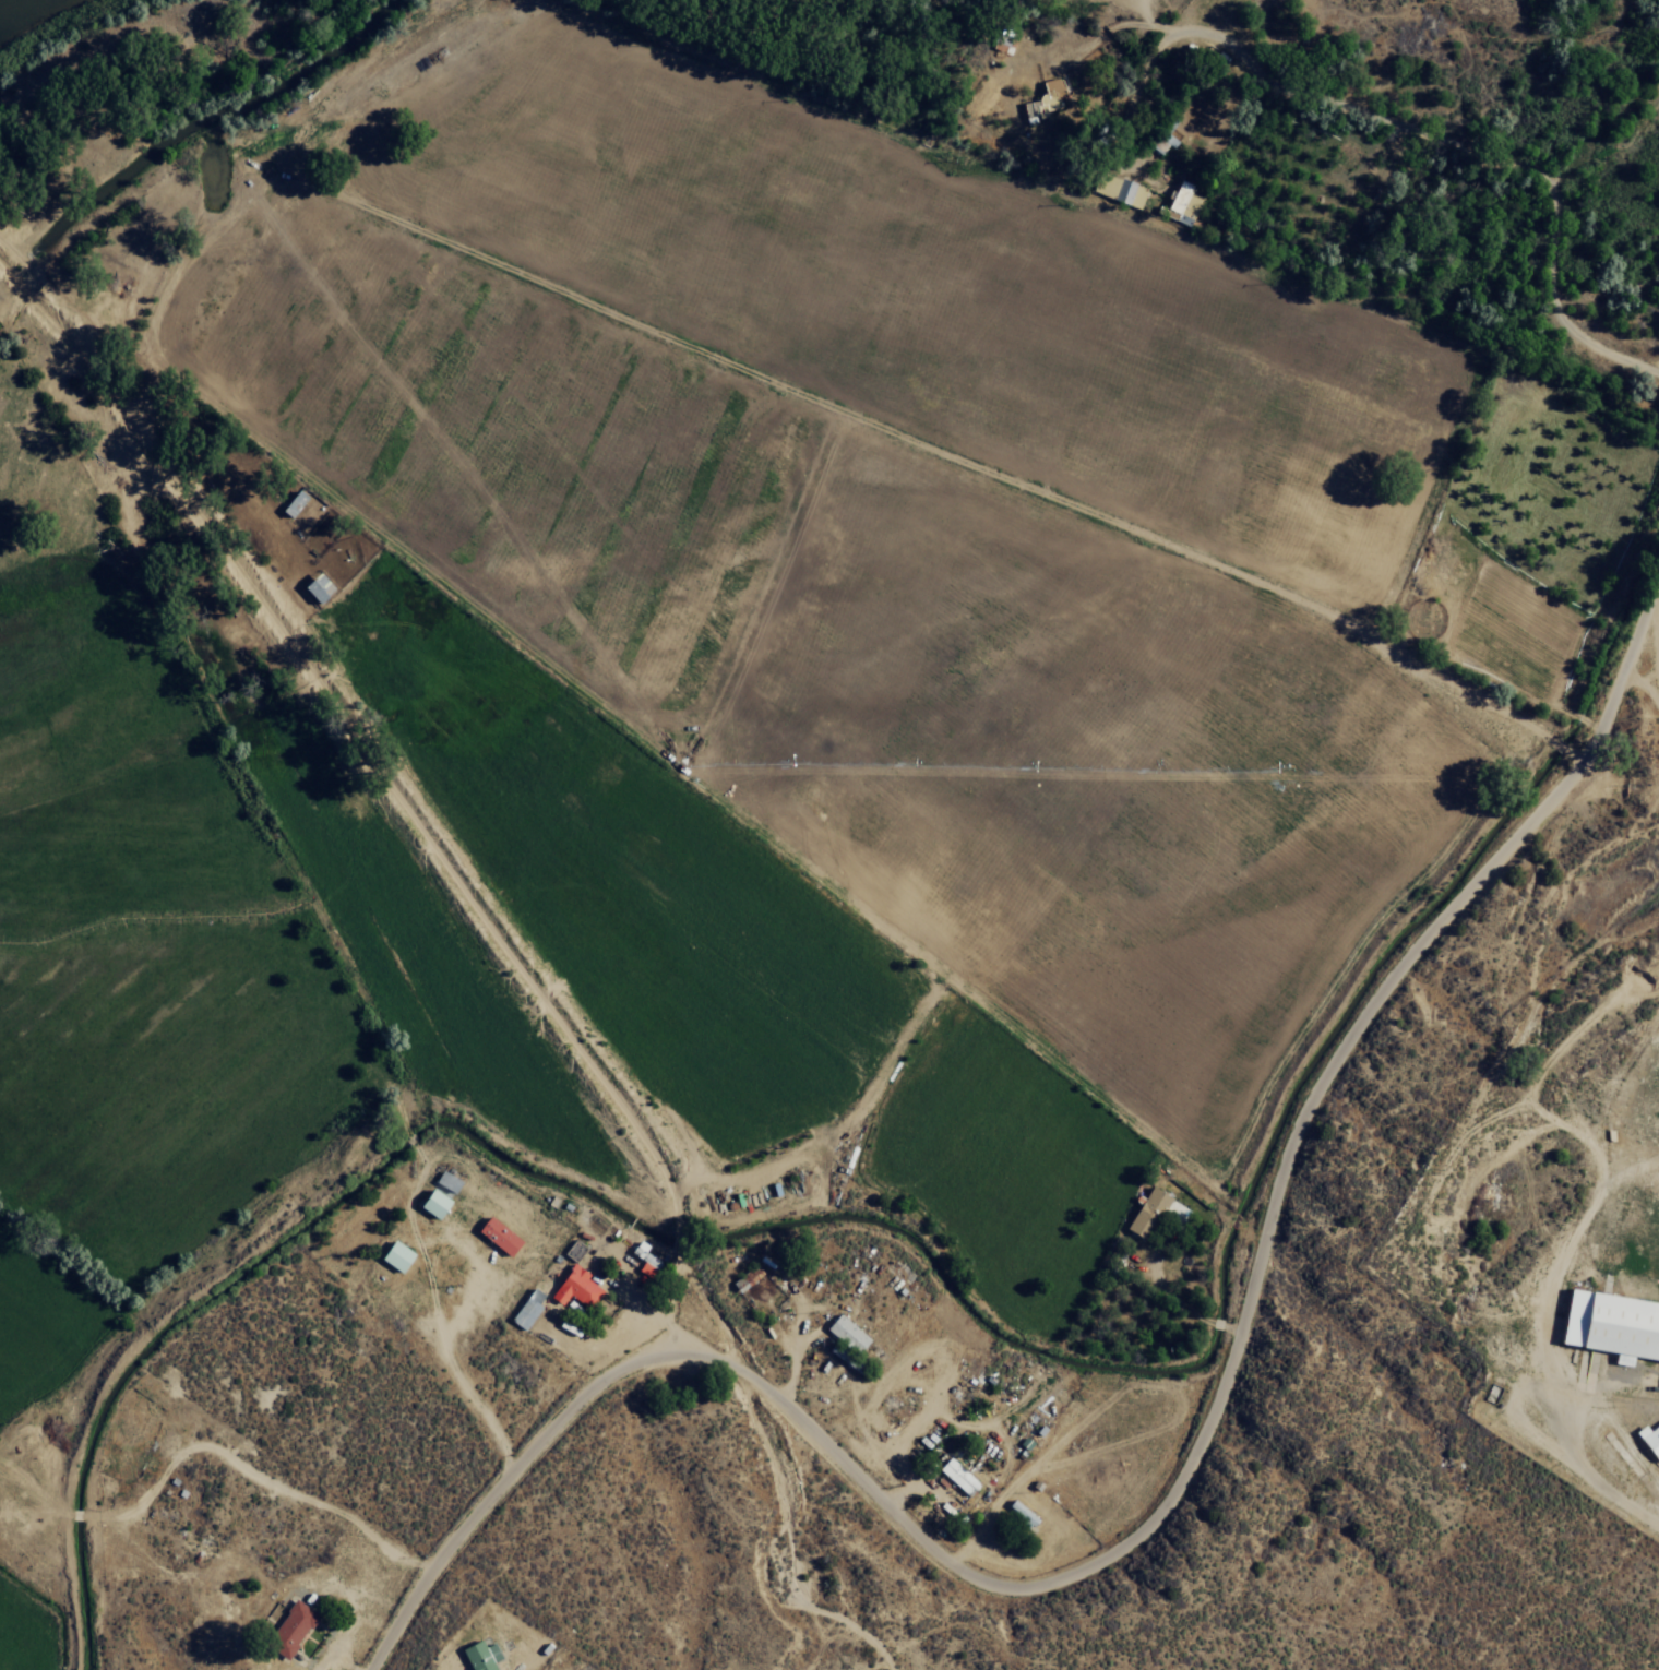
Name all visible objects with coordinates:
river: (11, 8)
building: (1000, 39)
building: (1045, 100)
road: (1507, 172)
building: (1118, 190)
building: (1181, 203)
road: (941, 424)
building: (290, 503)
building: (314, 587)
road: (1313, 1158)
building: (447, 1177)
building: (431, 1202)
building: (1145, 1212)
building: (1173, 1212)
building: (496, 1234)
building: (573, 1250)
building: (648, 1254)
building: (394, 1255)
building: (574, 1286)
building: (525, 1309)
building: (1611, 1326)
building: (846, 1333)
building: (1649, 1439)
road: (13, 1443)
building: (957, 1476)
road: (1173, 1477)
building: (1021, 1513)
road: (196, 1531)
building: (288, 1629)
building: (479, 1656)

